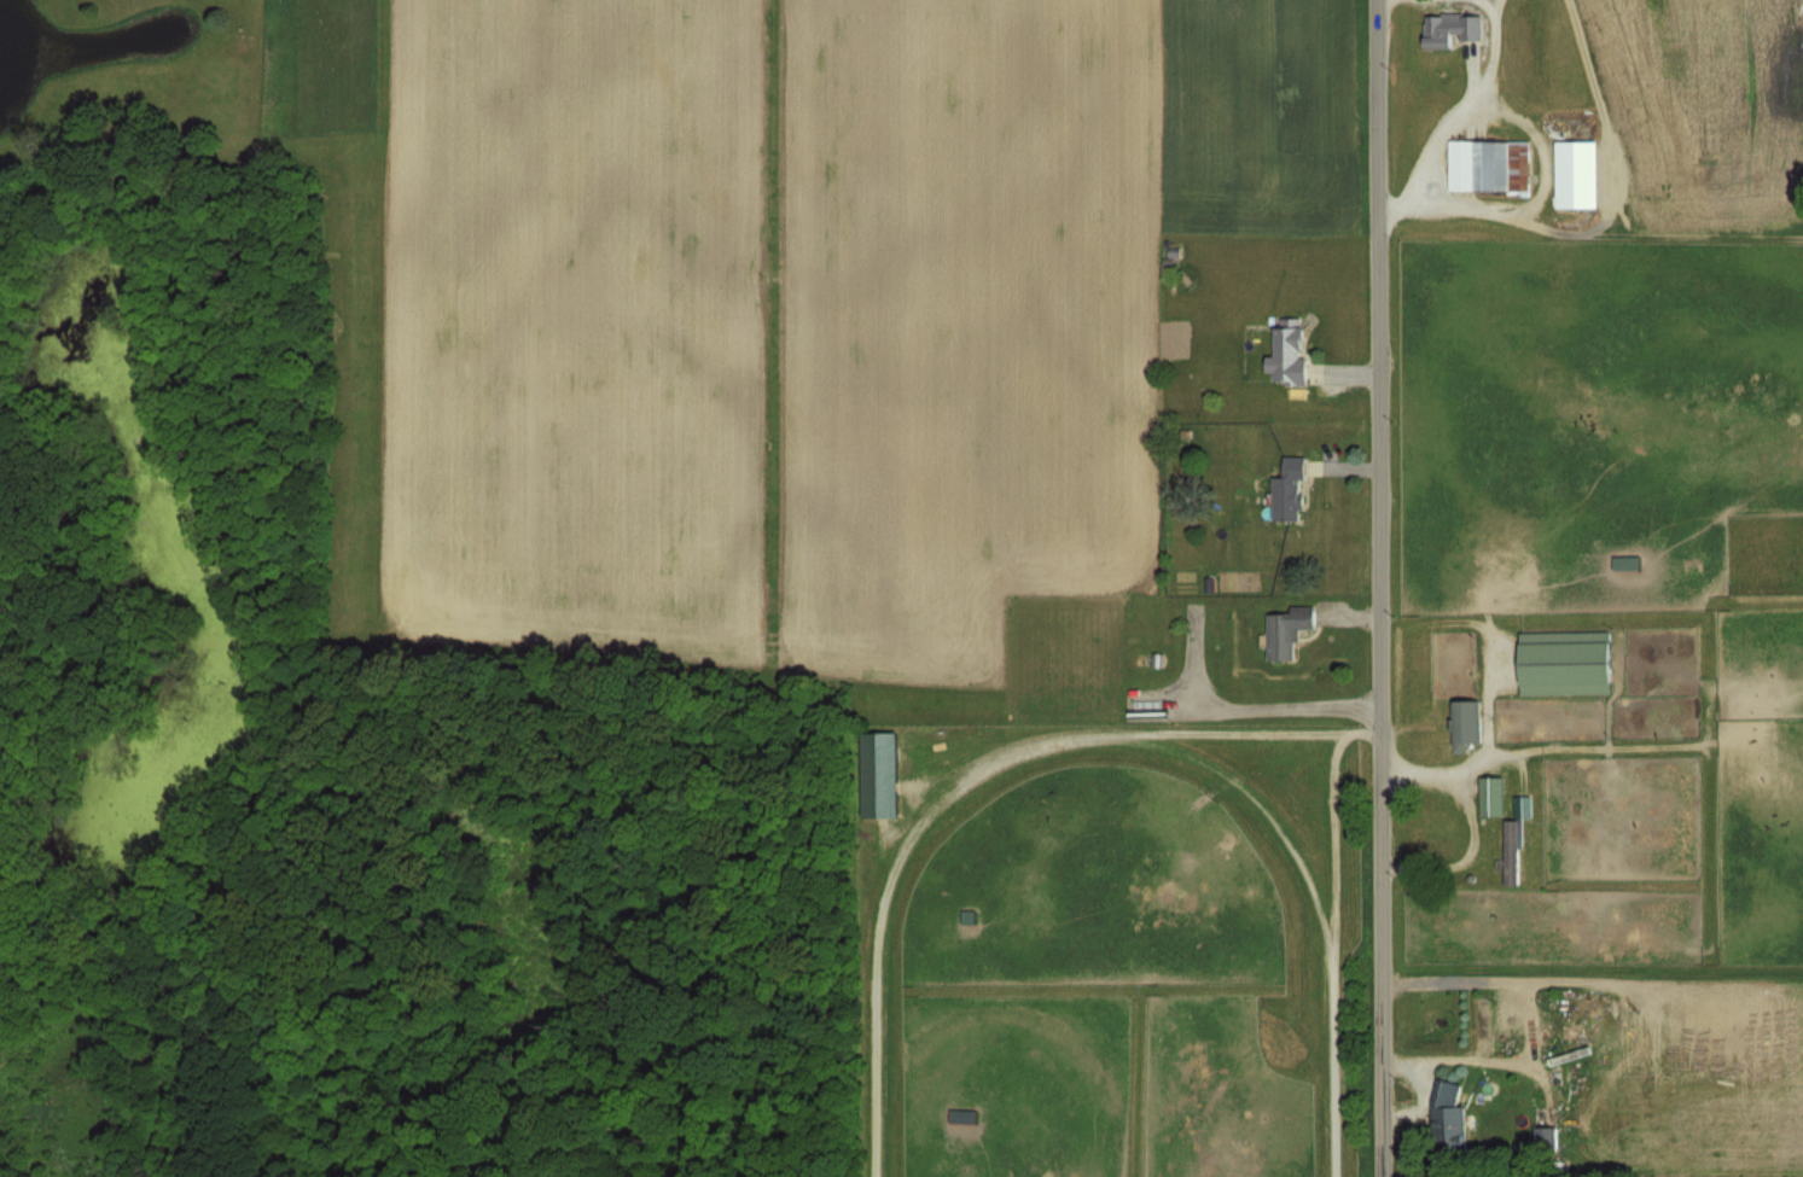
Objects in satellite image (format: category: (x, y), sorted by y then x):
road: (1495, 12)
building: (1452, 28)
road: (1464, 104)
building: (1489, 164)
building: (1578, 174)
road: (1611, 215)
building: (1289, 355)
building: (1290, 490)
road: (1380, 588)
road: (1459, 620)
building: (1287, 631)
building: (1565, 662)
building: (1465, 723)
building: (1491, 794)
road: (1470, 822)
building: (1512, 851)
building: (971, 890)
building: (1449, 1130)
building: (1547, 1140)

